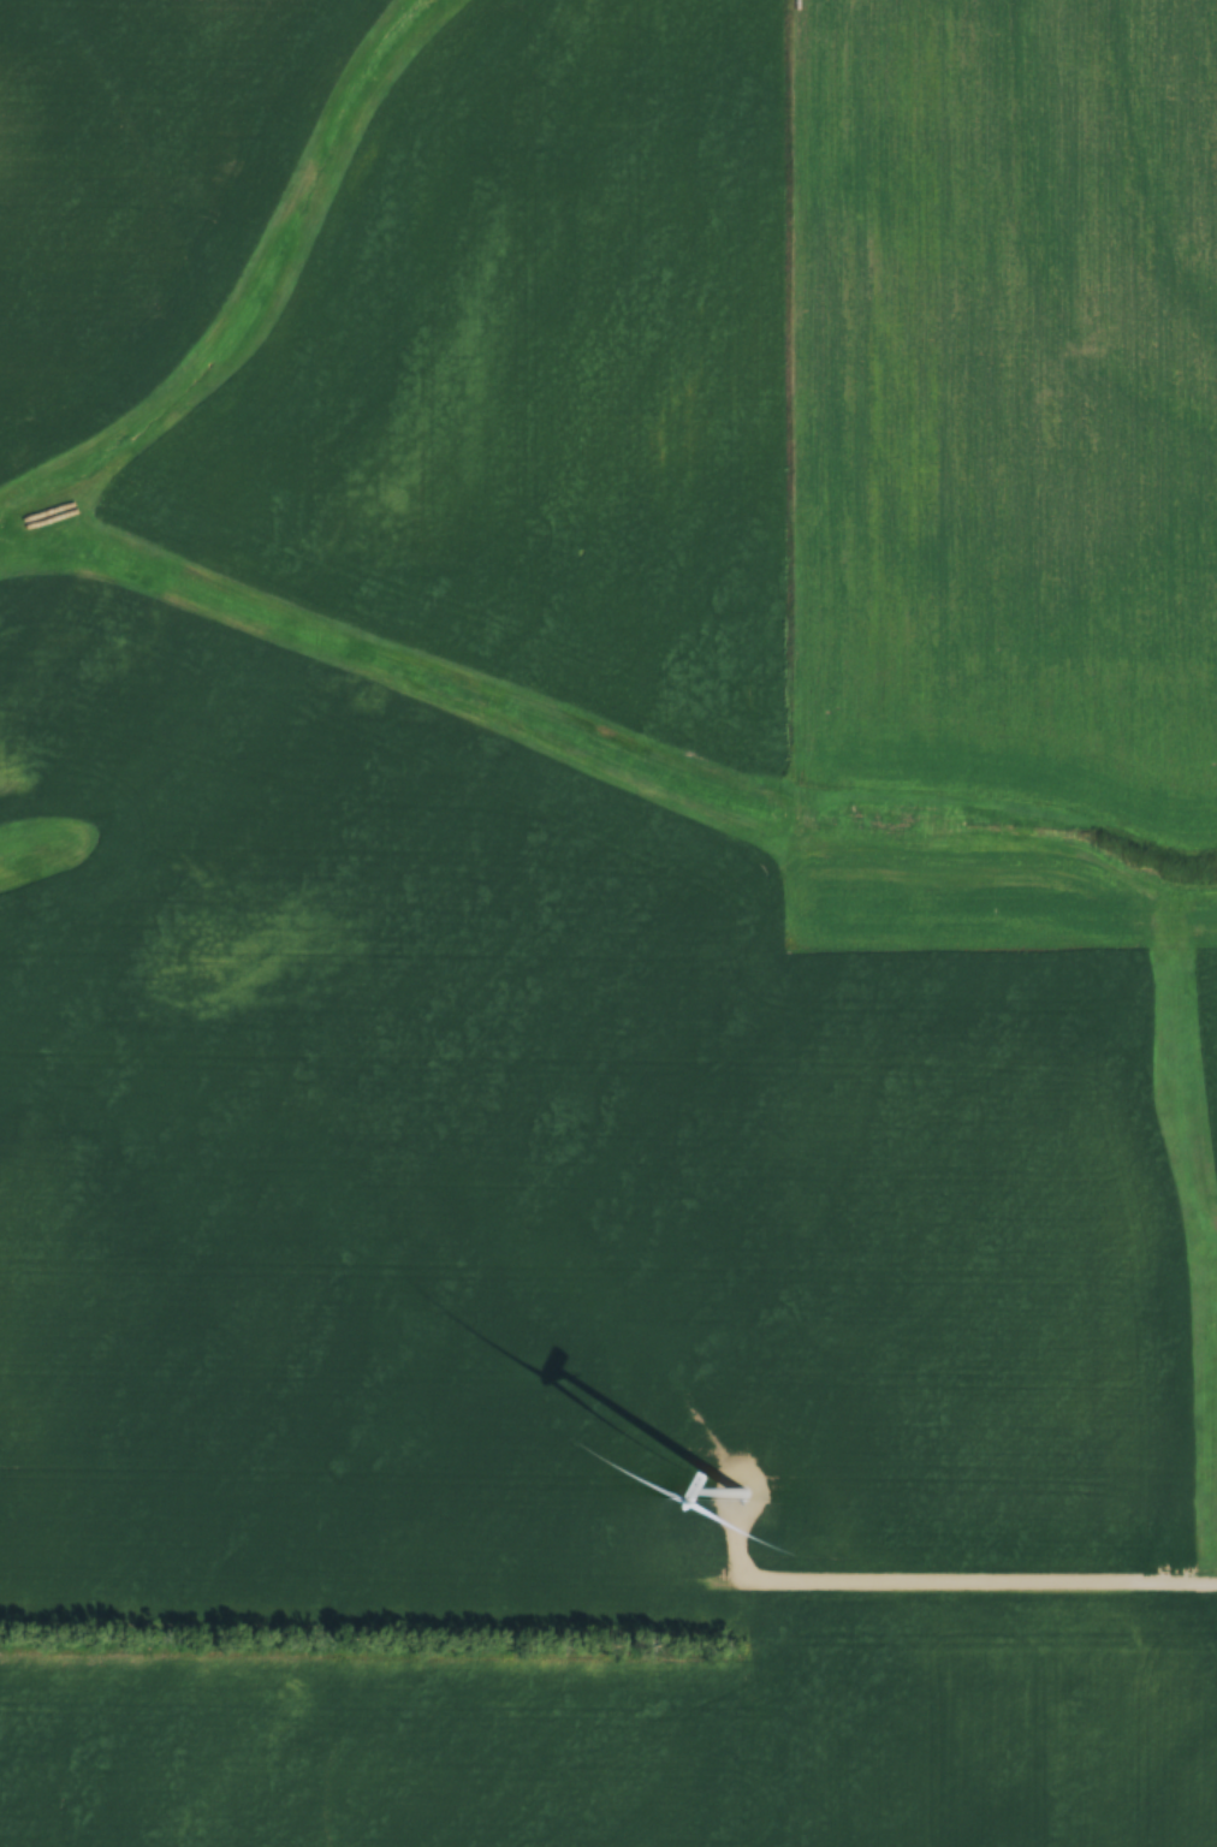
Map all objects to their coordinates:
wind turbine: (737, 1496)

